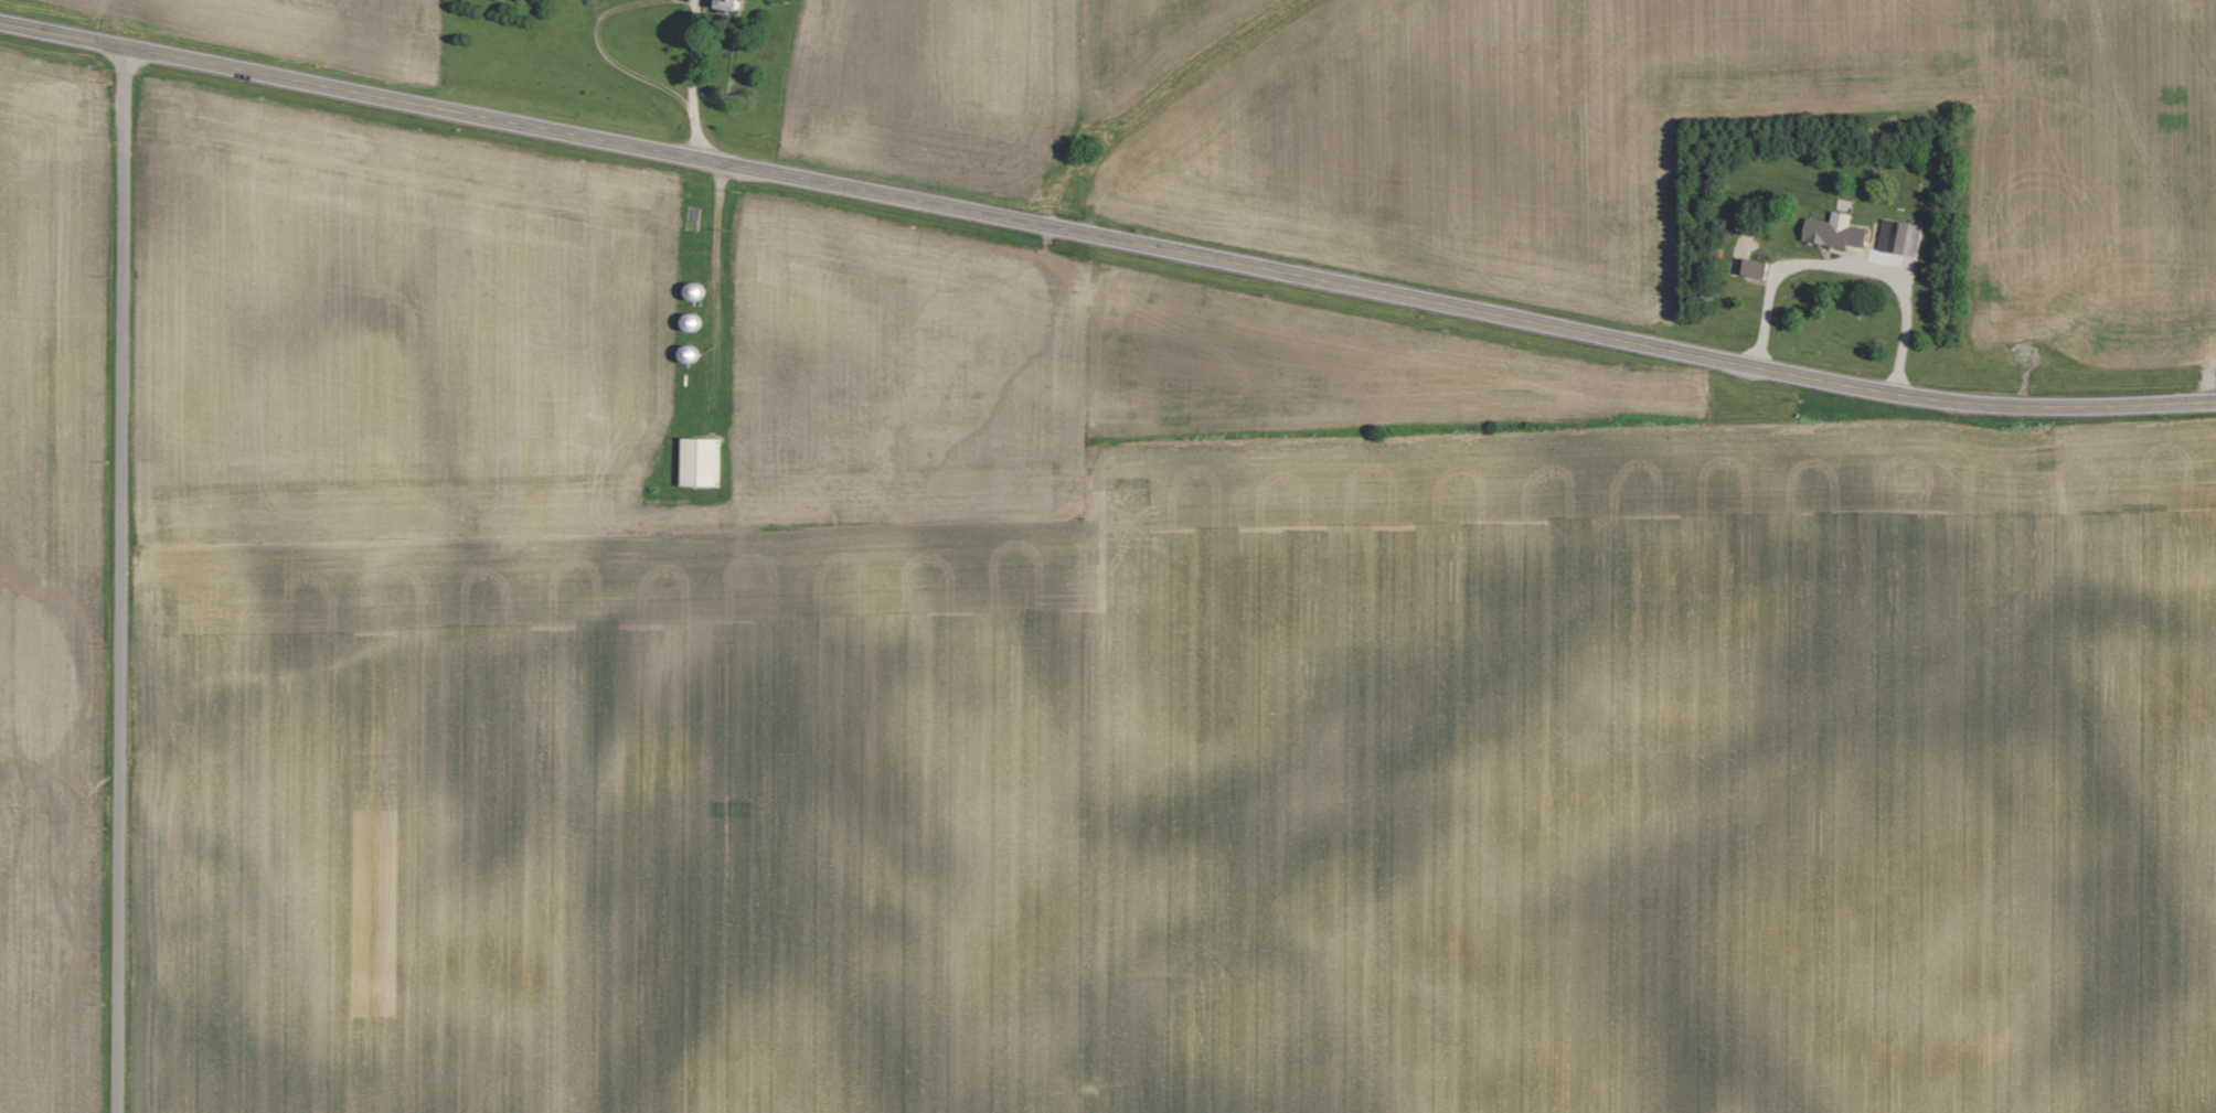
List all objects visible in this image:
building: (720, 3)
road: (691, 78)
building: (1832, 231)
road: (1105, 237)
building: (1898, 237)
road: (714, 259)
road: (1844, 266)
road: (122, 580)

